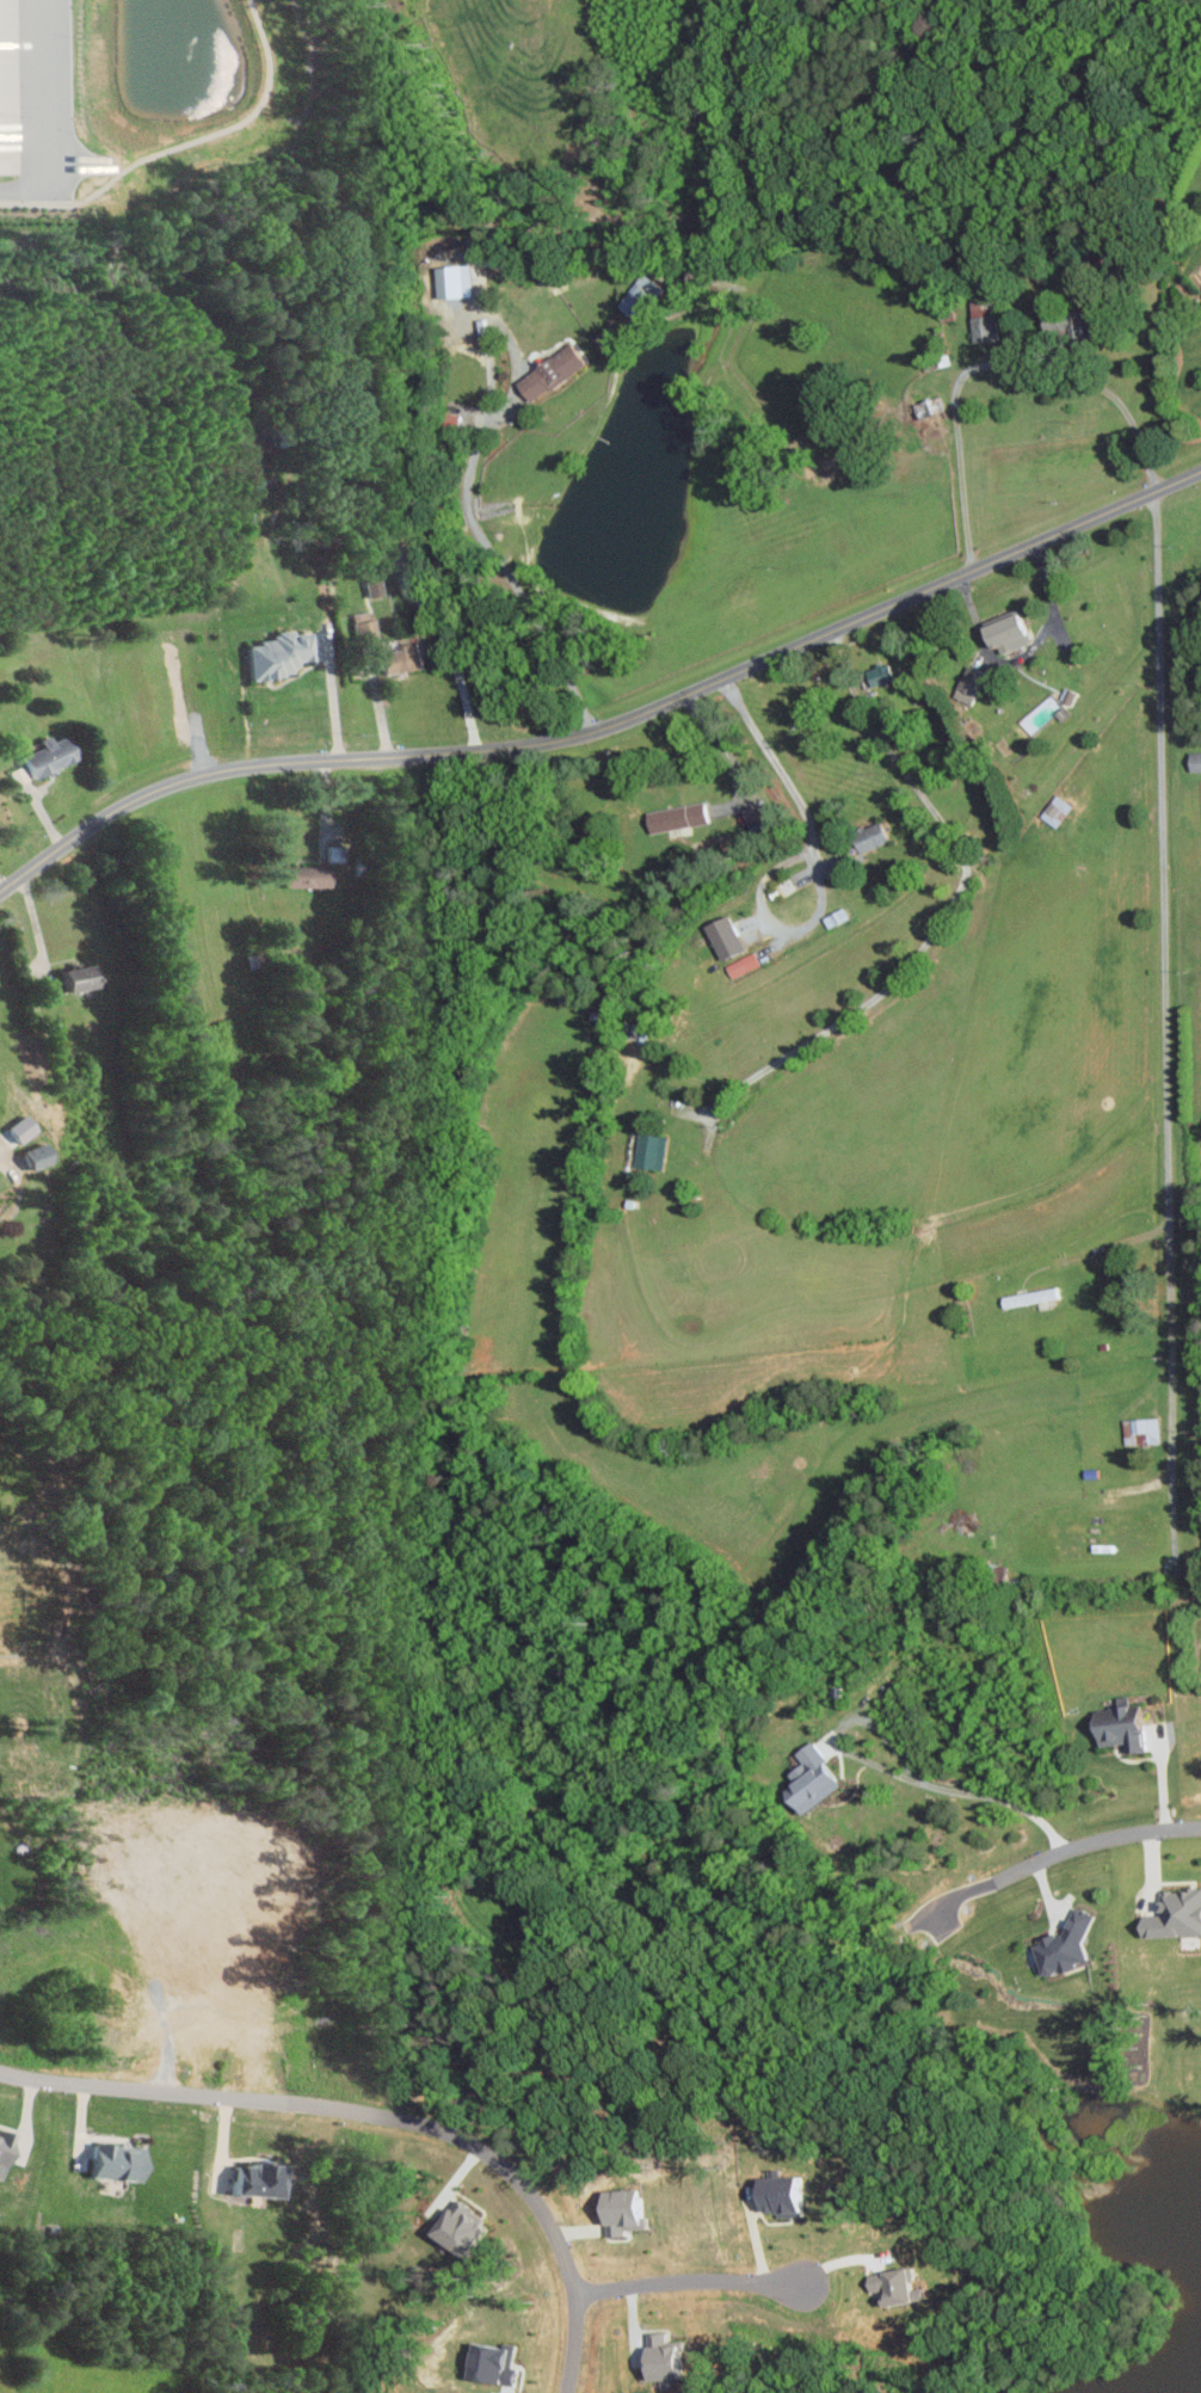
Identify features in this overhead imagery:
road: (53, 118)
building: (641, 296)
building: (981, 321)
road: (992, 364)
building: (559, 373)
building: (928, 410)
building: (412, 556)
road: (511, 584)
building: (377, 588)
building: (368, 628)
building: (1003, 632)
building: (285, 656)
building: (409, 659)
road: (451, 665)
building: (876, 672)
building: (966, 683)
road: (334, 701)
road: (608, 726)
road: (720, 751)
building: (54, 756)
building: (1193, 759)
building: (1053, 810)
building: (675, 817)
building: (866, 836)
road: (813, 865)
building: (313, 876)
road: (946, 910)
road: (38, 933)
building: (721, 935)
building: (740, 964)
building: (85, 979)
road: (1164, 998)
building: (630, 1029)
building: (648, 1150)
building: (42, 1156)
road: (1119, 1243)
building: (1042, 1293)
building: (1139, 1429)
building: (993, 1573)
building: (1116, 1725)
building: (807, 1778)
road: (967, 1789)
road: (1100, 1838)
road: (959, 1894)
building: (1172, 1914)
building: (1060, 1946)
road: (130, 2089)
building: (7, 2154)
building: (123, 2161)
road: (499, 2165)
building: (267, 2179)
building: (775, 2195)
building: (618, 2210)
building: (470, 2226)
road: (691, 2282)
building: (892, 2286)
building: (657, 2357)
building: (500, 2363)

